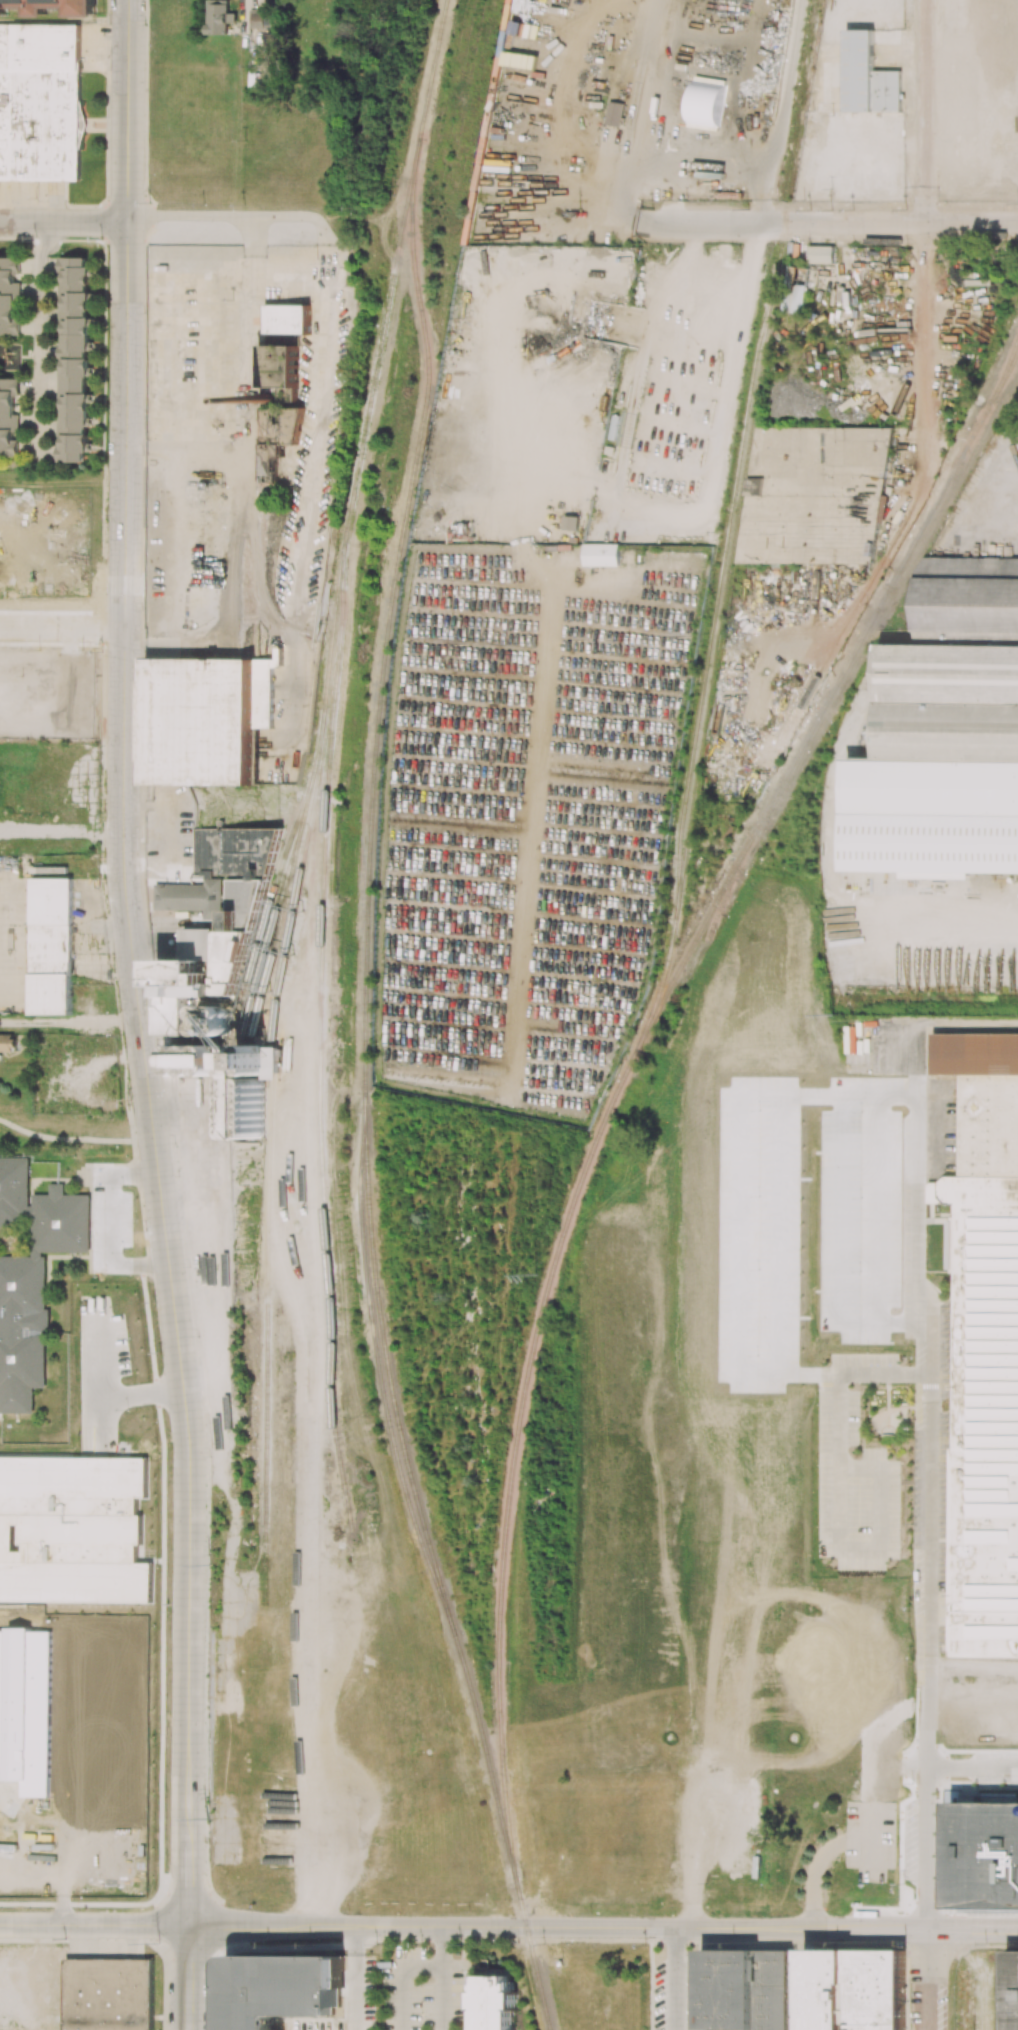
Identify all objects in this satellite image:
building: (49, 7)
building: (219, 17)
building: (261, 18)
road: (243, 19)
street lamp: (145, 23)
road: (126, 26)
parking lot: (93, 45)
road: (103, 65)
building: (868, 77)
building: (39, 102)
building: (614, 113)
street lamp: (107, 117)
building: (80, 123)
road: (712, 154)
road: (126, 177)
street lamp: (34, 198)
road: (41, 201)
road: (51, 201)
street lamp: (149, 201)
street lamp: (239, 201)
road: (672, 207)
road: (763, 211)
road: (925, 213)
road: (236, 215)
road: (702, 217)
road: (5, 222)
road: (68, 223)
road: (905, 225)
street lamp: (35, 237)
street lamp: (104, 241)
building: (820, 254)
street lamp: (31, 279)
building: (794, 293)
building: (8, 295)
street lamp: (144, 310)
building: (285, 319)
road: (37, 342)
building: (73, 358)
street lamp: (29, 360)
railway: (1009, 369)
building: (279, 370)
street lamp: (107, 380)
chimney: (266, 399)
building: (8, 417)
building: (276, 436)
road: (182, 446)
street lamp: (143, 453)
building: (439, 457)
road: (240, 480)
building: (805, 489)
railway: (352, 498)
street lamp: (105, 521)
building: (571, 522)
road: (643, 522)
railway: (736, 524)
railway: (916, 540)
building: (601, 554)
railway: (892, 594)
railway: (716, 596)
street lamp: (142, 610)
road: (61, 628)
street lamp: (31, 641)
street lamp: (107, 650)
street lamp: (21, 675)
street lamp: (95, 680)
road: (123, 689)
street lamp: (141, 715)
building: (205, 719)
road: (539, 727)
building: (945, 731)
street lamp: (30, 739)
street lamp: (105, 784)
railway: (309, 793)
street lamp: (141, 837)
street lamp: (105, 881)
railway: (278, 906)
railway: (284, 907)
road: (942, 930)
building: (51, 946)
building: (219, 966)
street lamp: (154, 985)
power tower: (837, 1012)
road: (70, 1021)
railway: (365, 1030)
street lamp: (120, 1031)
railway: (319, 1034)
road: (886, 1040)
building: (8, 1042)
park: (56, 1129)
street lamp: (134, 1131)
railway: (266, 1137)
road: (64, 1139)
street lamp: (173, 1141)
road: (134, 1157)
street lamp: (177, 1176)
road: (875, 1182)
street lamp: (123, 1188)
street lamp: (143, 1205)
railway: (677, 1206)
road: (111, 1226)
street lamp: (122, 1252)
street lamp: (189, 1265)
power tower: (537, 1273)
building: (30, 1274)
railway: (365, 1281)
street lamp: (153, 1302)
railway: (536, 1331)
street lamp: (197, 1336)
building: (984, 1347)
street lamp: (164, 1403)
road: (187, 1454)
street lamp: (210, 1456)
road: (930, 1485)
street lamp: (170, 1486)
road: (838, 1491)
power tower: (215, 1562)
street lamp: (209, 1563)
street lamp: (41, 1572)
street lamp: (57, 1585)
road: (65, 1603)
street lamp: (165, 1609)
road: (974, 1669)
street lamp: (209, 1674)
building: (26, 1707)
road: (974, 1709)
road: (929, 1726)
street lamp: (165, 1732)
street lamp: (209, 1796)
power tower: (210, 1818)
road: (927, 1833)
building: (984, 1855)
street lamp: (166, 1857)
road: (820, 1861)
road: (188, 1880)
street lamp: (904, 1885)
street lamp: (347, 1909)
street lamp: (591, 1913)
street lamp: (713, 1915)
road: (94, 1925)
road: (602, 1927)
road: (926, 1927)
street lamp: (382, 1942)
power tower: (158, 1943)
street lamp: (472, 1944)
street lamp: (544, 1944)
street lamp: (984, 1944)
street lamp: (904, 1946)
road: (349, 1975)
road: (443, 1976)
road: (188, 1977)
road: (355, 1977)
road: (402, 1977)
street lamp: (646, 1978)
road: (675, 1979)
building: (280, 1988)
building: (744, 1989)
building: (853, 1990)
building: (1012, 1990)
building: (109, 1994)
building: (494, 2003)
road: (925, 2005)
road: (442, 2028)
road: (444, 2028)
road: (188, 2029)

